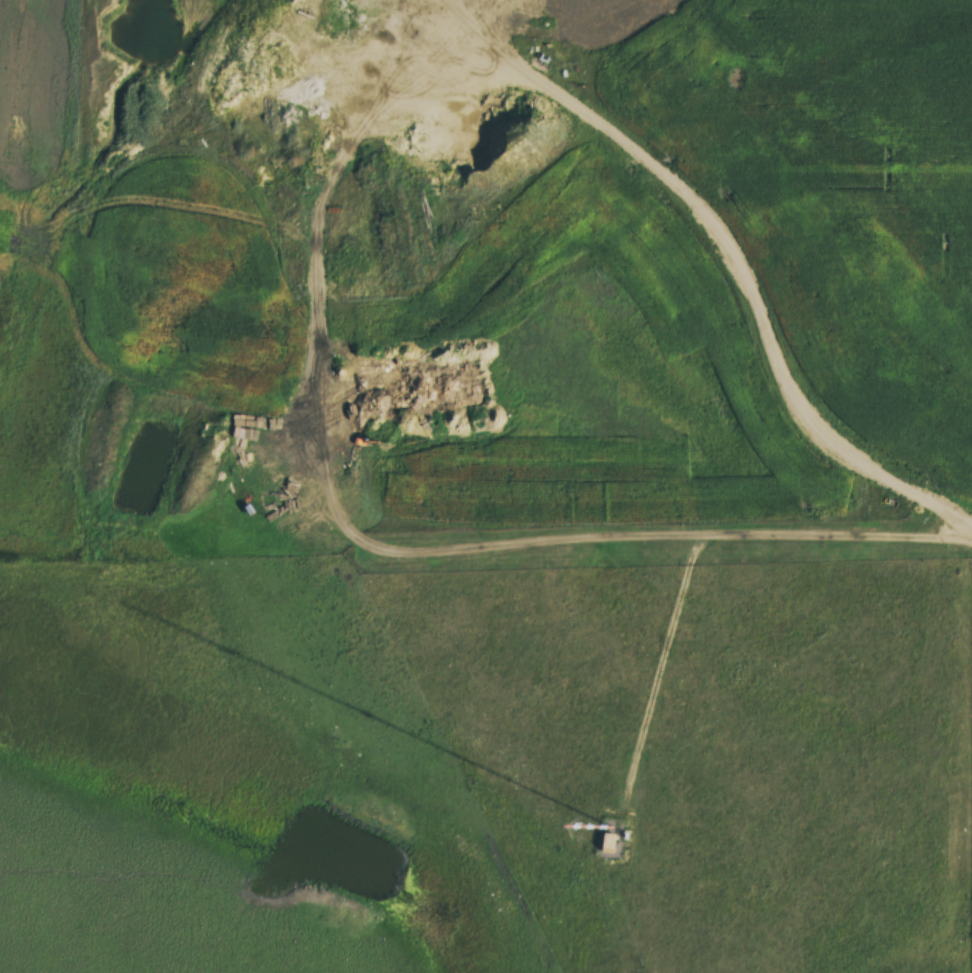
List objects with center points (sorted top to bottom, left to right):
building: (603, 842)

